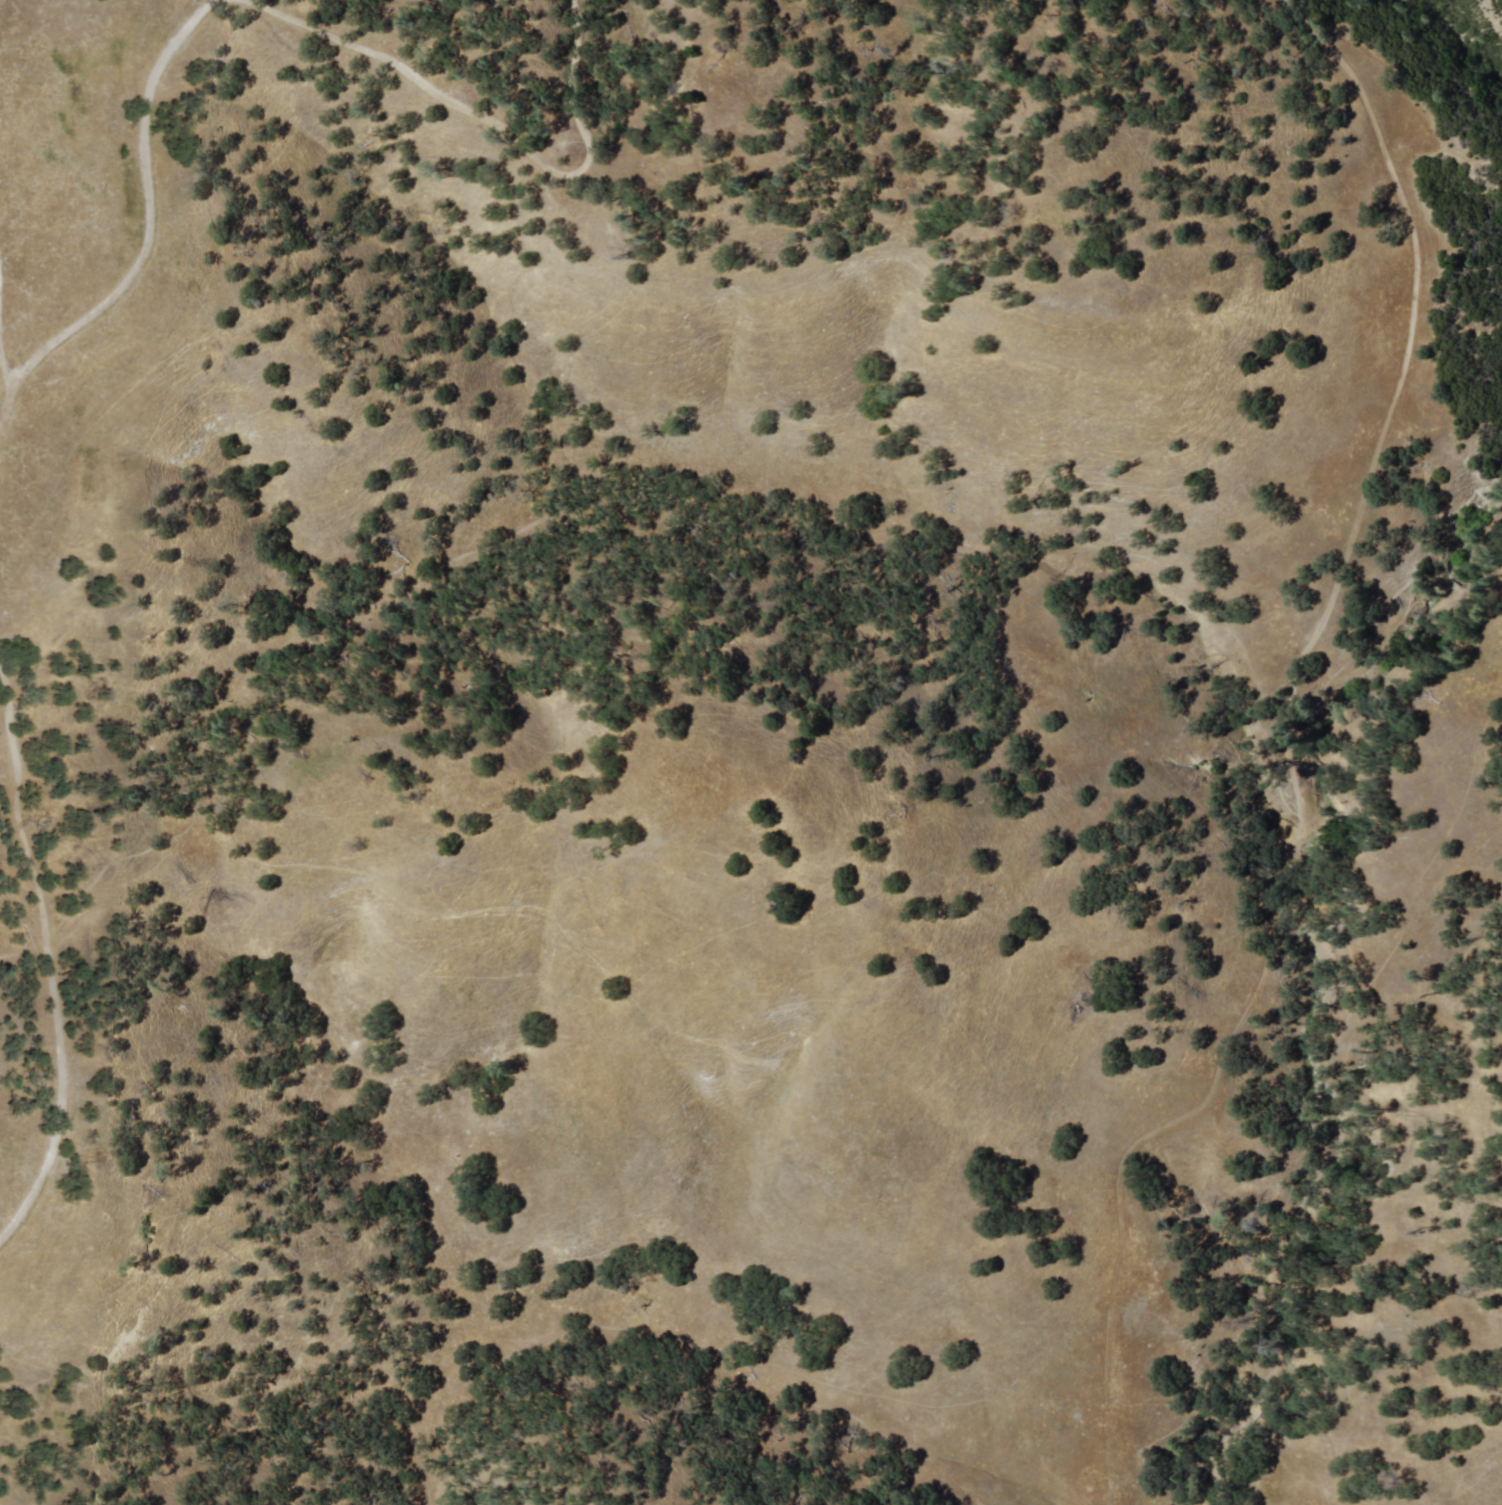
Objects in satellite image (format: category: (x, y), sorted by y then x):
road: (511, 75)
road: (64, 599)
road: (10, 1484)

